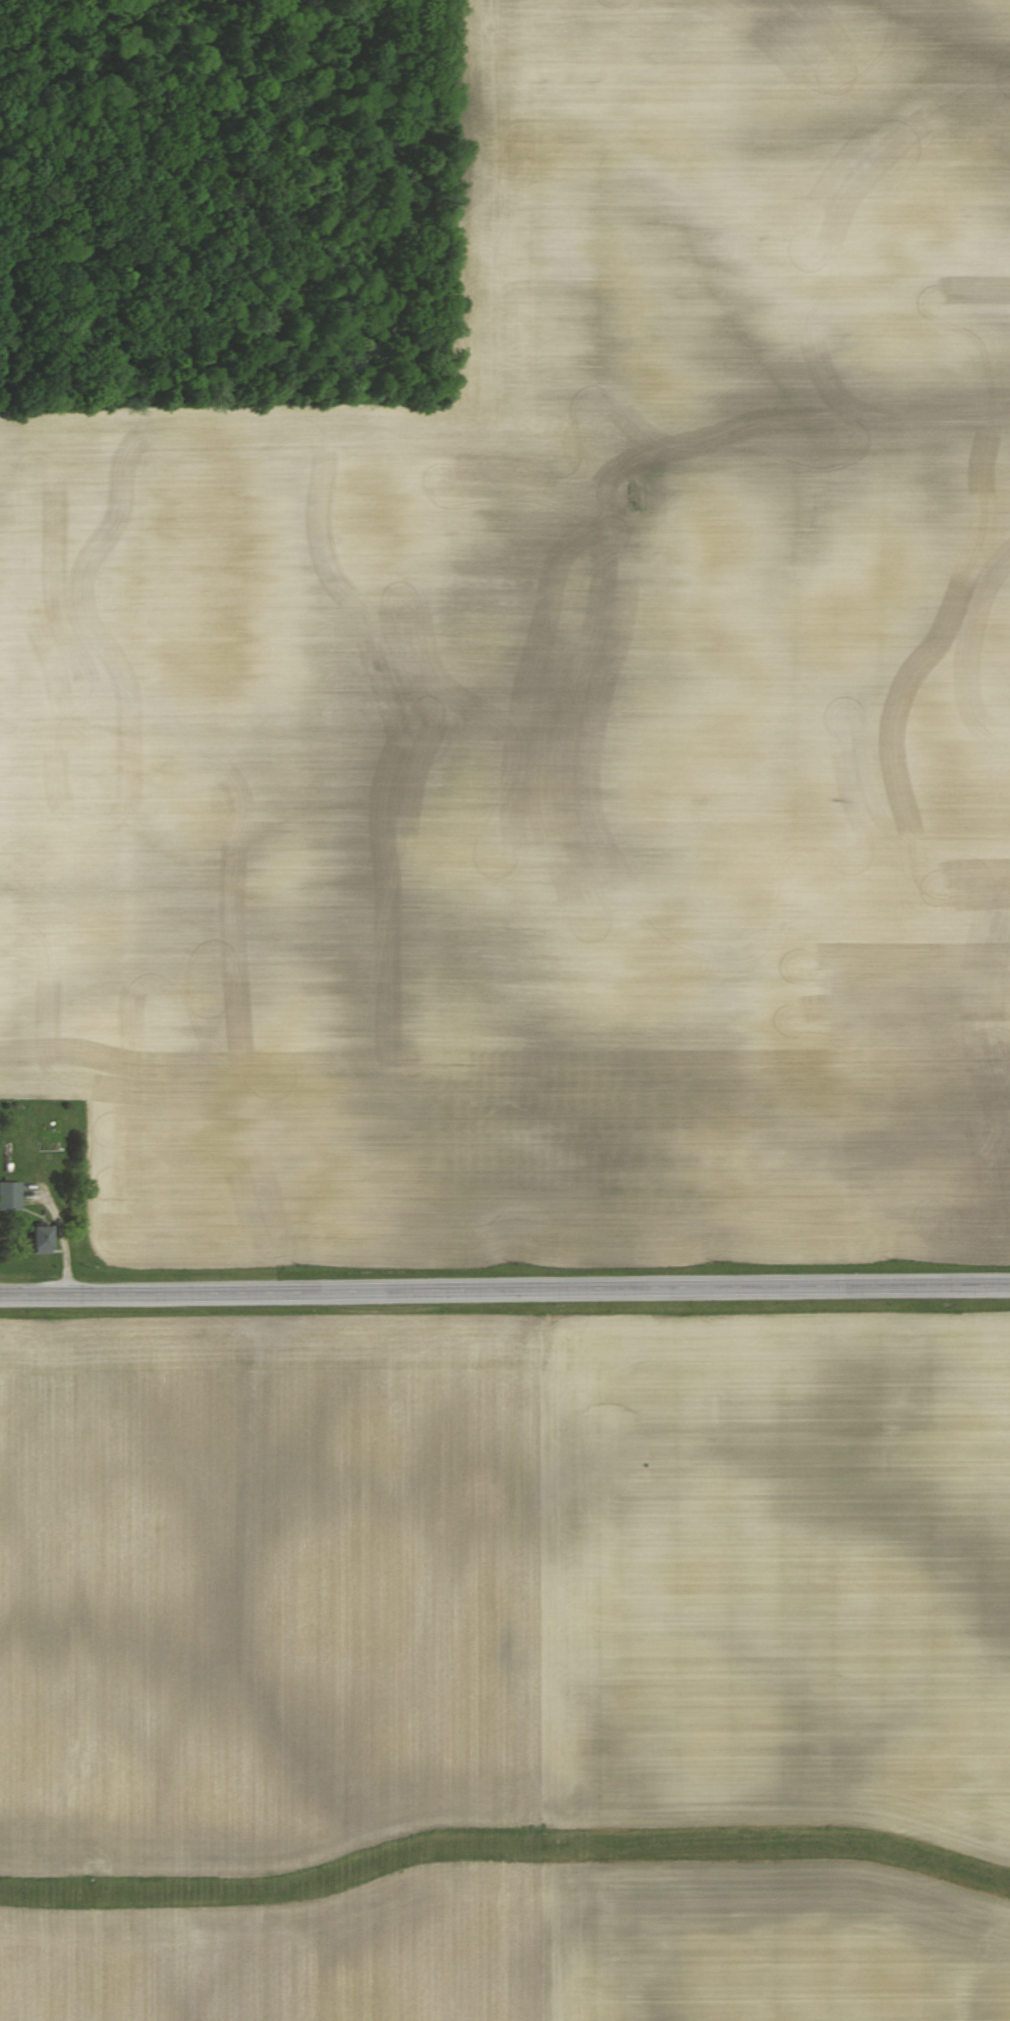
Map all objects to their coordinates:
building: (10, 1195)
building: (39, 1238)
road: (505, 1291)

